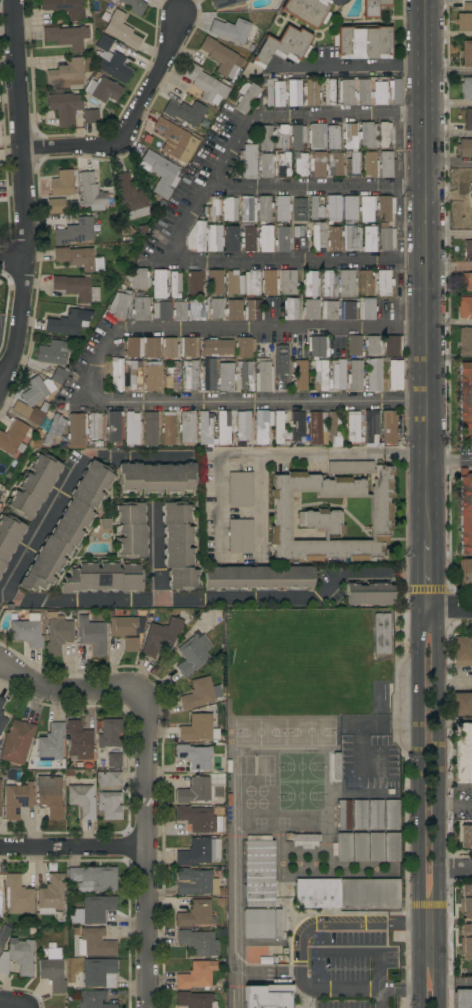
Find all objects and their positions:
building: (222, 3)
building: (134, 6)
building: (373, 7)
building: (65, 8)
building: (307, 11)
building: (464, 21)
building: (120, 30)
building: (234, 30)
building: (67, 36)
building: (363, 41)
building: (283, 46)
building: (466, 53)
building: (221, 57)
building: (111, 60)
road: (351, 64)
building: (70, 72)
road: (449, 73)
building: (206, 84)
building: (466, 88)
building: (103, 89)
building: (330, 91)
building: (363, 91)
building: (394, 91)
building: (275, 92)
building: (294, 92)
building: (310, 92)
building: (346, 92)
building: (379, 92)
building: (247, 96)
road: (449, 104)
building: (64, 108)
building: (185, 112)
building: (91, 116)
road: (299, 117)
road: (128, 119)
building: (467, 119)
road: (427, 131)
building: (316, 135)
building: (368, 135)
building: (384, 135)
road: (449, 135)
building: (282, 136)
building: (298, 136)
building: (350, 136)
building: (265, 137)
building: (334, 137)
building: (176, 140)
building: (464, 147)
building: (247, 161)
road: (449, 162)
building: (265, 163)
building: (300, 163)
building: (335, 163)
building: (283, 164)
building: (352, 164)
building: (386, 164)
building: (318, 165)
building: (370, 165)
building: (161, 173)
building: (465, 181)
building: (62, 184)
road: (319, 188)
road: (19, 189)
building: (91, 192)
building: (131, 197)
building: (56, 205)
building: (316, 206)
building: (247, 208)
building: (333, 208)
building: (367, 208)
building: (385, 208)
building: (468, 208)
building: (229, 209)
building: (264, 209)
building: (282, 209)
building: (300, 209)
building: (349, 209)
building: (212, 210)
building: (75, 232)
road: (450, 232)
building: (198, 236)
building: (318, 236)
building: (213, 237)
building: (248, 237)
building: (231, 238)
building: (265, 238)
building: (351, 238)
building: (282, 239)
building: (334, 239)
building: (369, 239)
building: (387, 239)
building: (468, 249)
building: (79, 258)
road: (259, 258)
road: (11, 259)
road: (450, 267)
building: (139, 278)
building: (467, 280)
building: (195, 282)
building: (215, 282)
building: (252, 282)
building: (269, 282)
building: (288, 282)
building: (365, 282)
building: (383, 282)
building: (159, 283)
building: (234, 283)
building: (310, 283)
building: (346, 283)
building: (175, 284)
building: (328, 284)
building: (77, 287)
road: (428, 294)
building: (120, 305)
building: (465, 307)
building: (141, 308)
building: (366, 308)
building: (226, 309)
building: (291, 309)
building: (311, 309)
building: (189, 310)
building: (252, 310)
building: (329, 310)
building: (349, 310)
building: (161, 311)
building: (68, 323)
building: (465, 341)
building: (354, 345)
building: (392, 345)
building: (189, 346)
building: (372, 346)
building: (142, 347)
building: (171, 347)
building: (217, 347)
building: (244, 347)
building: (317, 347)
building: (54, 352)
road: (450, 358)
building: (281, 359)
parking lot: (84, 360)
road: (429, 361)
road: (91, 370)
building: (117, 374)
building: (212, 374)
building: (320, 374)
building: (338, 374)
building: (374, 374)
building: (395, 374)
building: (134, 375)
building: (191, 375)
building: (300, 375)
building: (355, 375)
building: (58, 376)
building: (153, 376)
building: (246, 376)
building: (263, 376)
building: (173, 377)
building: (225, 377)
building: (35, 399)
building: (465, 401)
building: (369, 424)
building: (297, 425)
building: (94, 426)
building: (261, 426)
building: (114, 427)
building: (187, 427)
building: (242, 427)
building: (278, 427)
building: (317, 427)
building: (334, 427)
building: (131, 428)
building: (169, 428)
building: (205, 428)
building: (225, 428)
building: (353, 428)
building: (389, 428)
building: (53, 429)
building: (76, 429)
building: (150, 429)
building: (13, 438)
road: (450, 462)
building: (350, 467)
road: (429, 469)
road: (220, 470)
road: (68, 475)
building: (156, 478)
building: (34, 486)
building: (241, 489)
building: (2, 493)
building: (465, 511)
building: (330, 516)
building: (68, 527)
building: (131, 530)
building: (241, 536)
building: (9, 538)
building: (179, 545)
road: (155, 549)
building: (465, 573)
road: (429, 574)
building: (0, 577)
building: (103, 577)
building: (259, 577)
building: (370, 593)
road: (201, 597)
road: (451, 607)
building: (28, 631)
building: (127, 631)
building: (57, 633)
building: (92, 633)
building: (161, 637)
building: (462, 650)
building: (192, 654)
building: (198, 694)
building: (1, 702)
building: (462, 703)
building: (0, 712)
road: (456, 720)
building: (2, 722)
building: (198, 727)
building: (109, 732)
building: (79, 740)
building: (16, 741)
building: (51, 742)
building: (462, 753)
building: (195, 757)
building: (114, 760)
building: (336, 766)
building: (384, 766)
road: (146, 770)
building: (109, 778)
road: (456, 785)
building: (0, 787)
building: (194, 791)
building: (49, 795)
building: (219, 797)
building: (17, 800)
building: (82, 800)
building: (110, 805)
road: (418, 806)
road: (439, 807)
building: (0, 809)
building: (359, 814)
building: (375, 814)
building: (391, 814)
building: (343, 815)
building: (198, 819)
building: (465, 836)
building: (306, 837)
road: (74, 846)
building: (343, 847)
building: (359, 847)
building: (375, 847)
building: (391, 847)
building: (199, 852)
road: (455, 869)
building: (259, 871)
building: (94, 877)
building: (198, 883)
building: (347, 893)
building: (50, 895)
building: (17, 896)
building: (467, 902)
building: (93, 910)
building: (196, 914)
road: (429, 919)
building: (261, 923)
building: (3, 933)
building: (198, 942)
building: (94, 943)
building: (465, 950)
road: (366, 952)
building: (18, 957)
road: (299, 957)
building: (52, 968)
building: (99, 973)
building: (196, 975)
road: (456, 984)
building: (268, 995)
road: (378, 998)
building: (463, 998)
building: (94, 1000)
building: (195, 1000)
road: (10, 1004)

